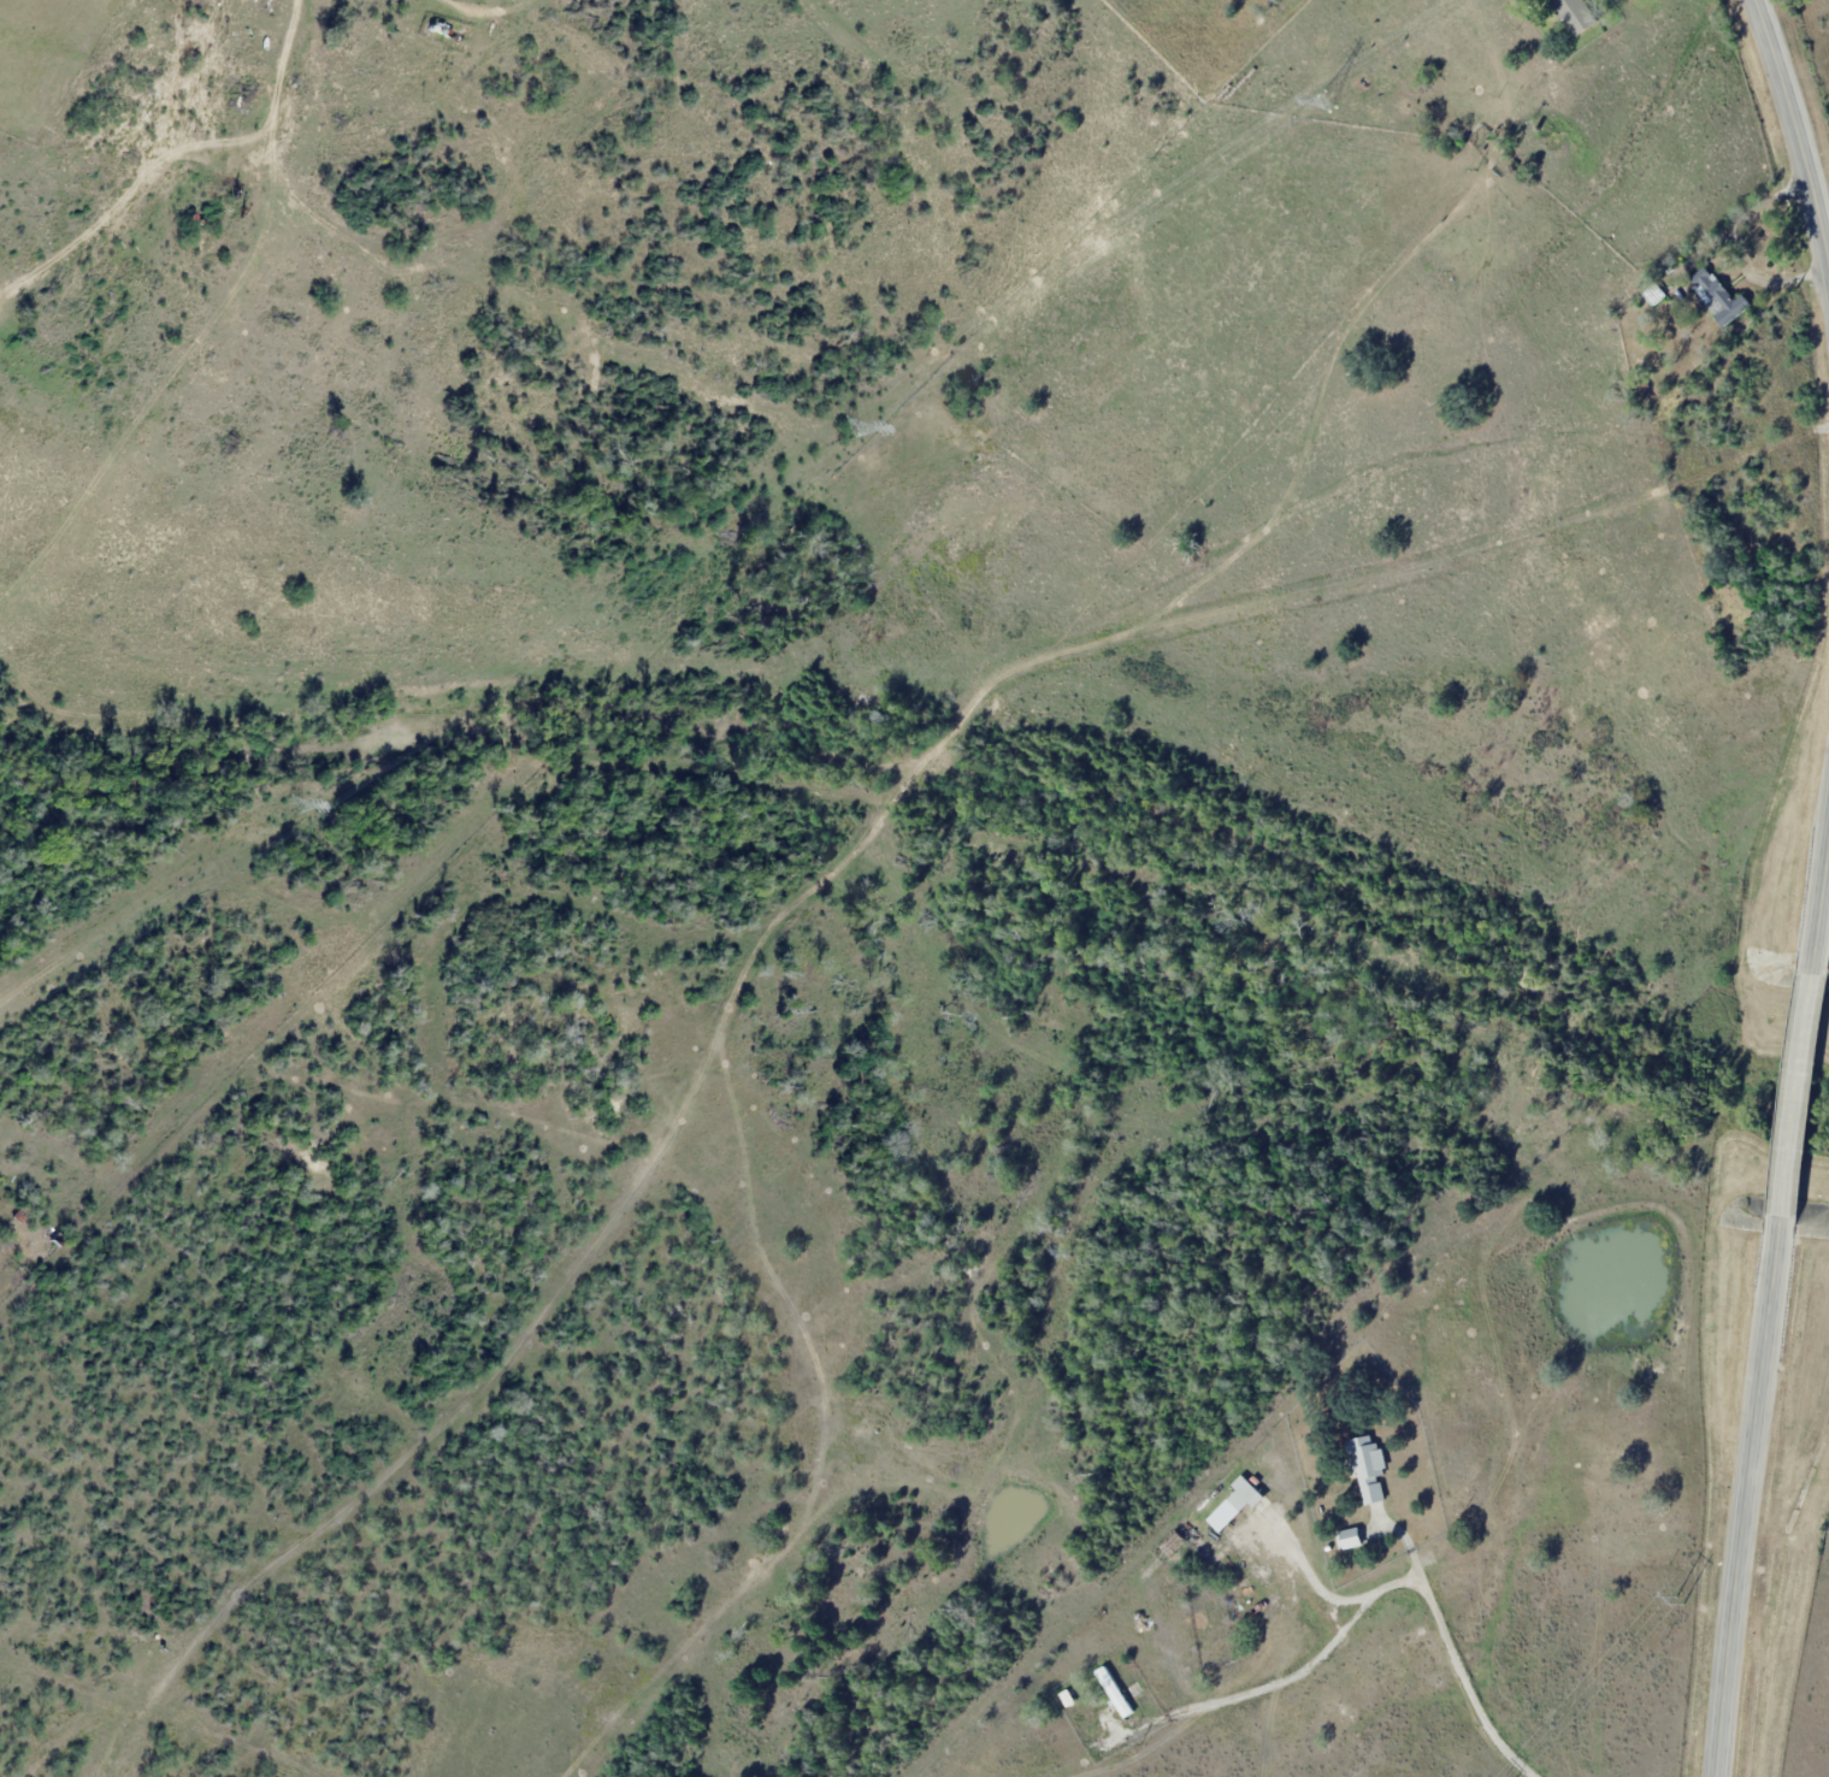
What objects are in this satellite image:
road: (455, 6)
building: (1579, 14)
power tower: (1326, 102)
road: (1798, 131)
building: (1721, 296)
power tower: (848, 427)
power tower: (293, 804)
road: (1822, 913)
road: (1800, 1094)
building: (1371, 1470)
road: (1746, 1495)
building: (1237, 1505)
building: (1353, 1540)
road: (1323, 1594)
power tower: (1678, 1601)
road: (1447, 1643)
building: (1116, 1694)
road: (1245, 1696)

